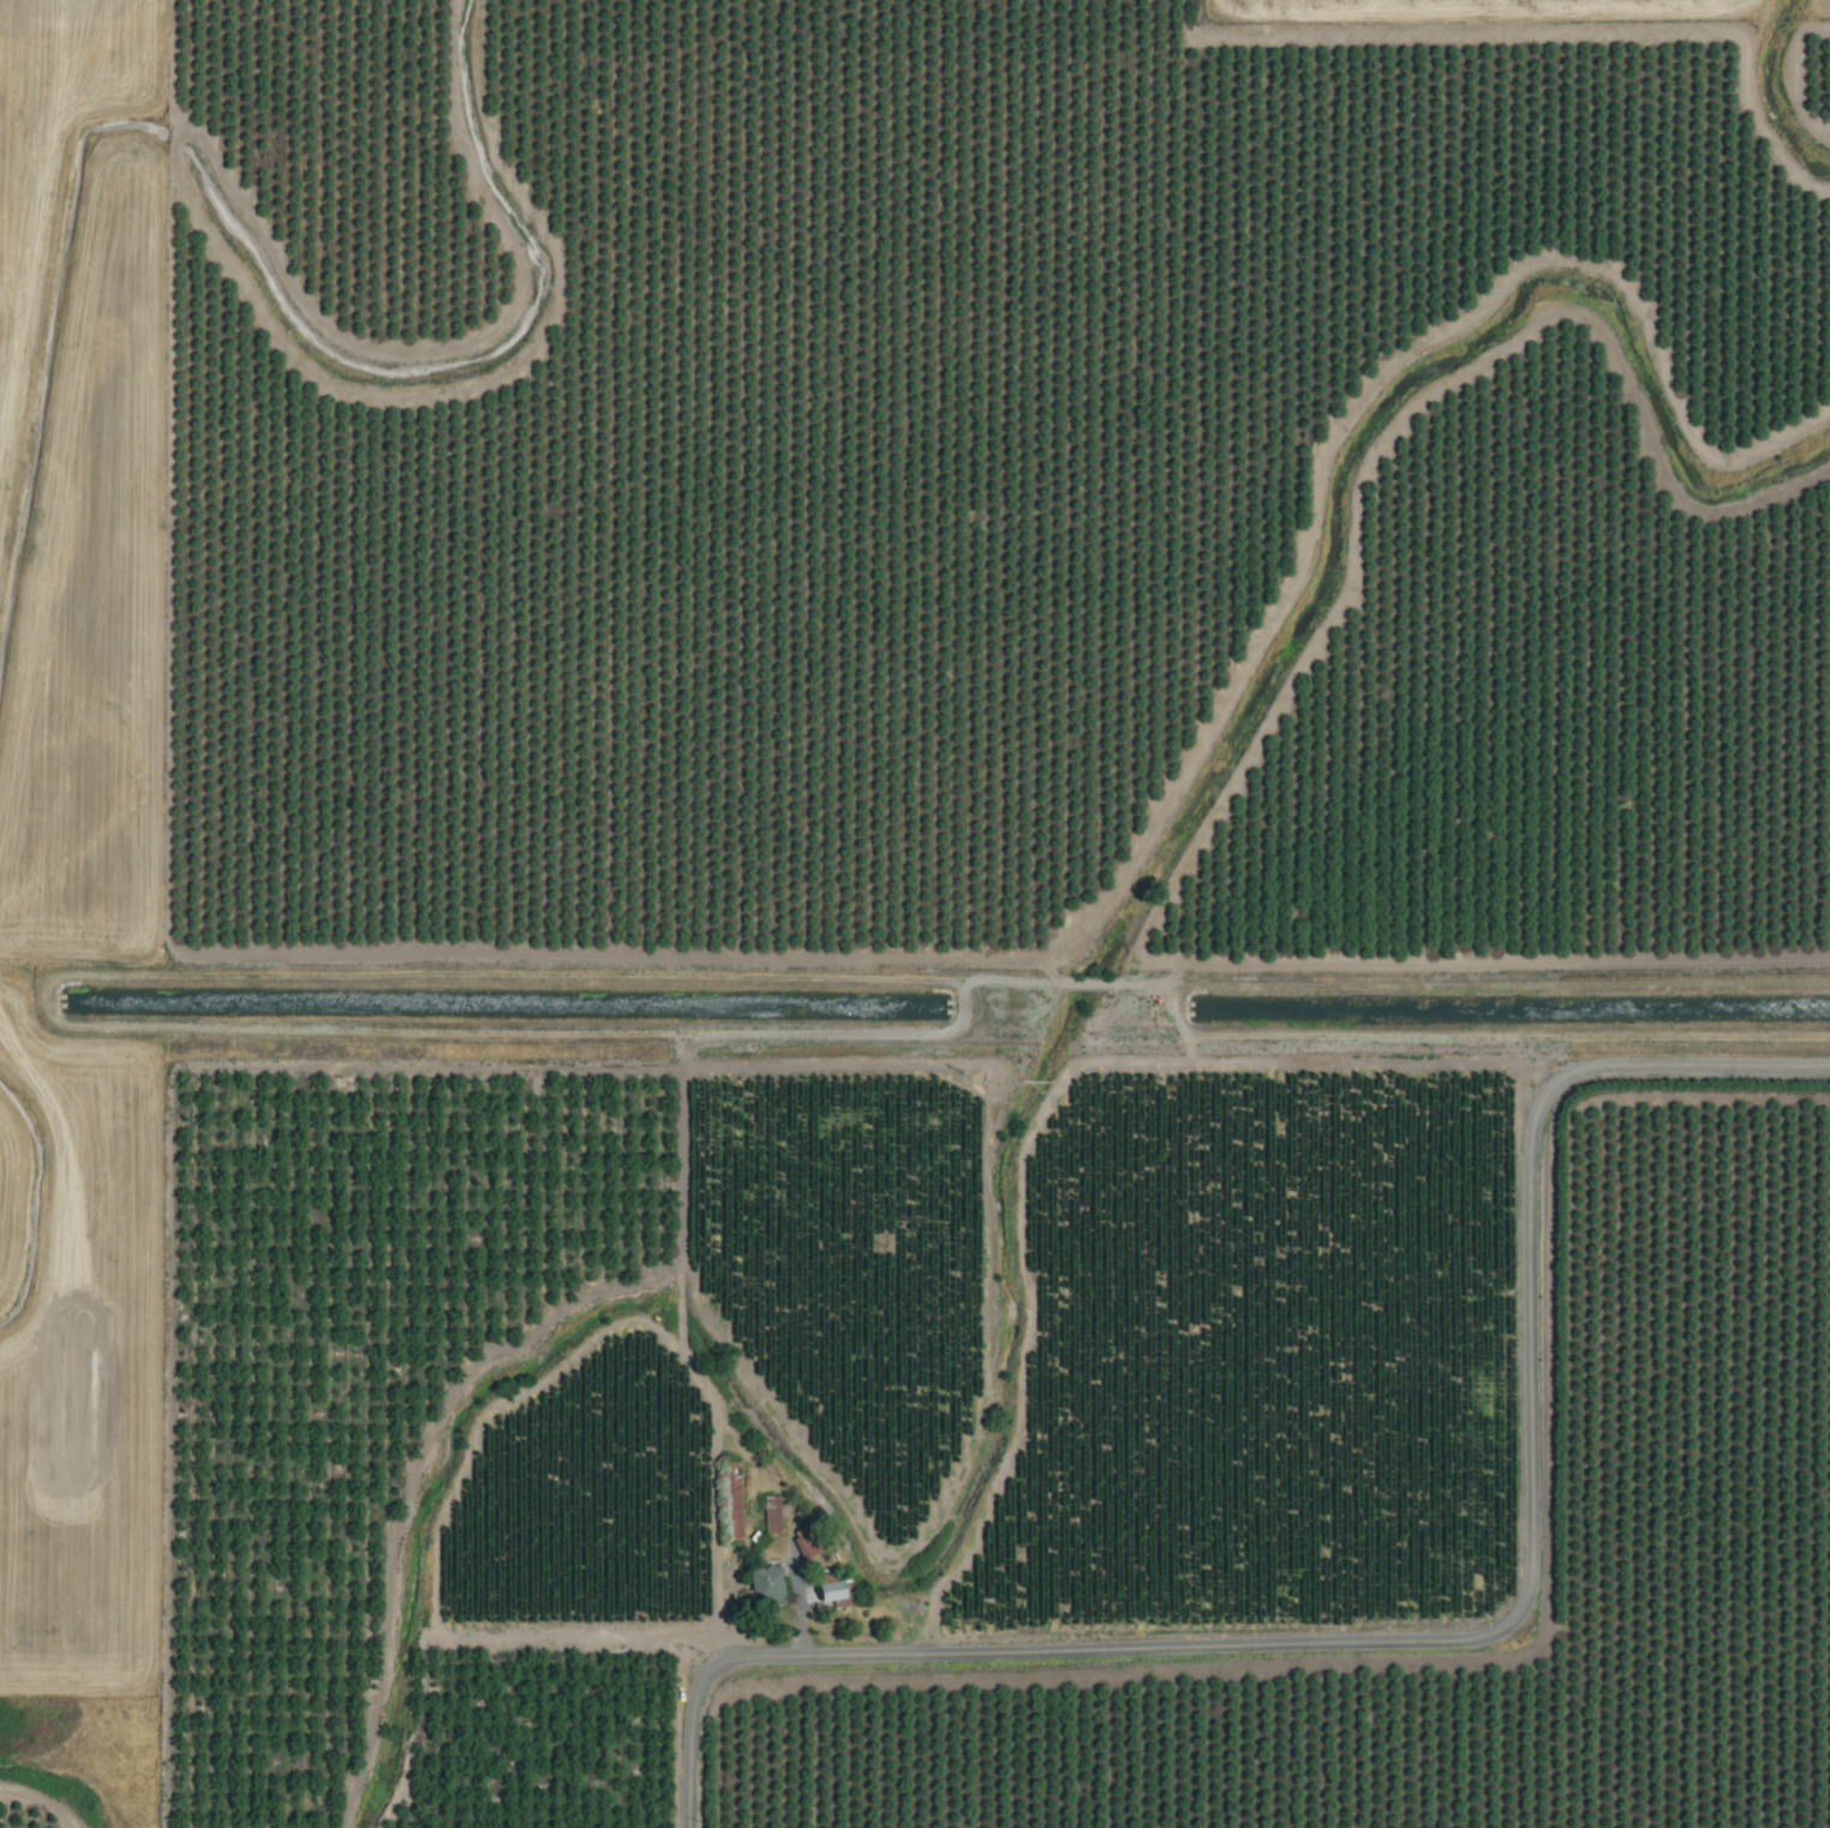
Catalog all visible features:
building: (730, 1502)
building: (769, 1514)
building: (805, 1542)
building: (762, 1584)
building: (825, 1593)
road: (1443, 1641)

